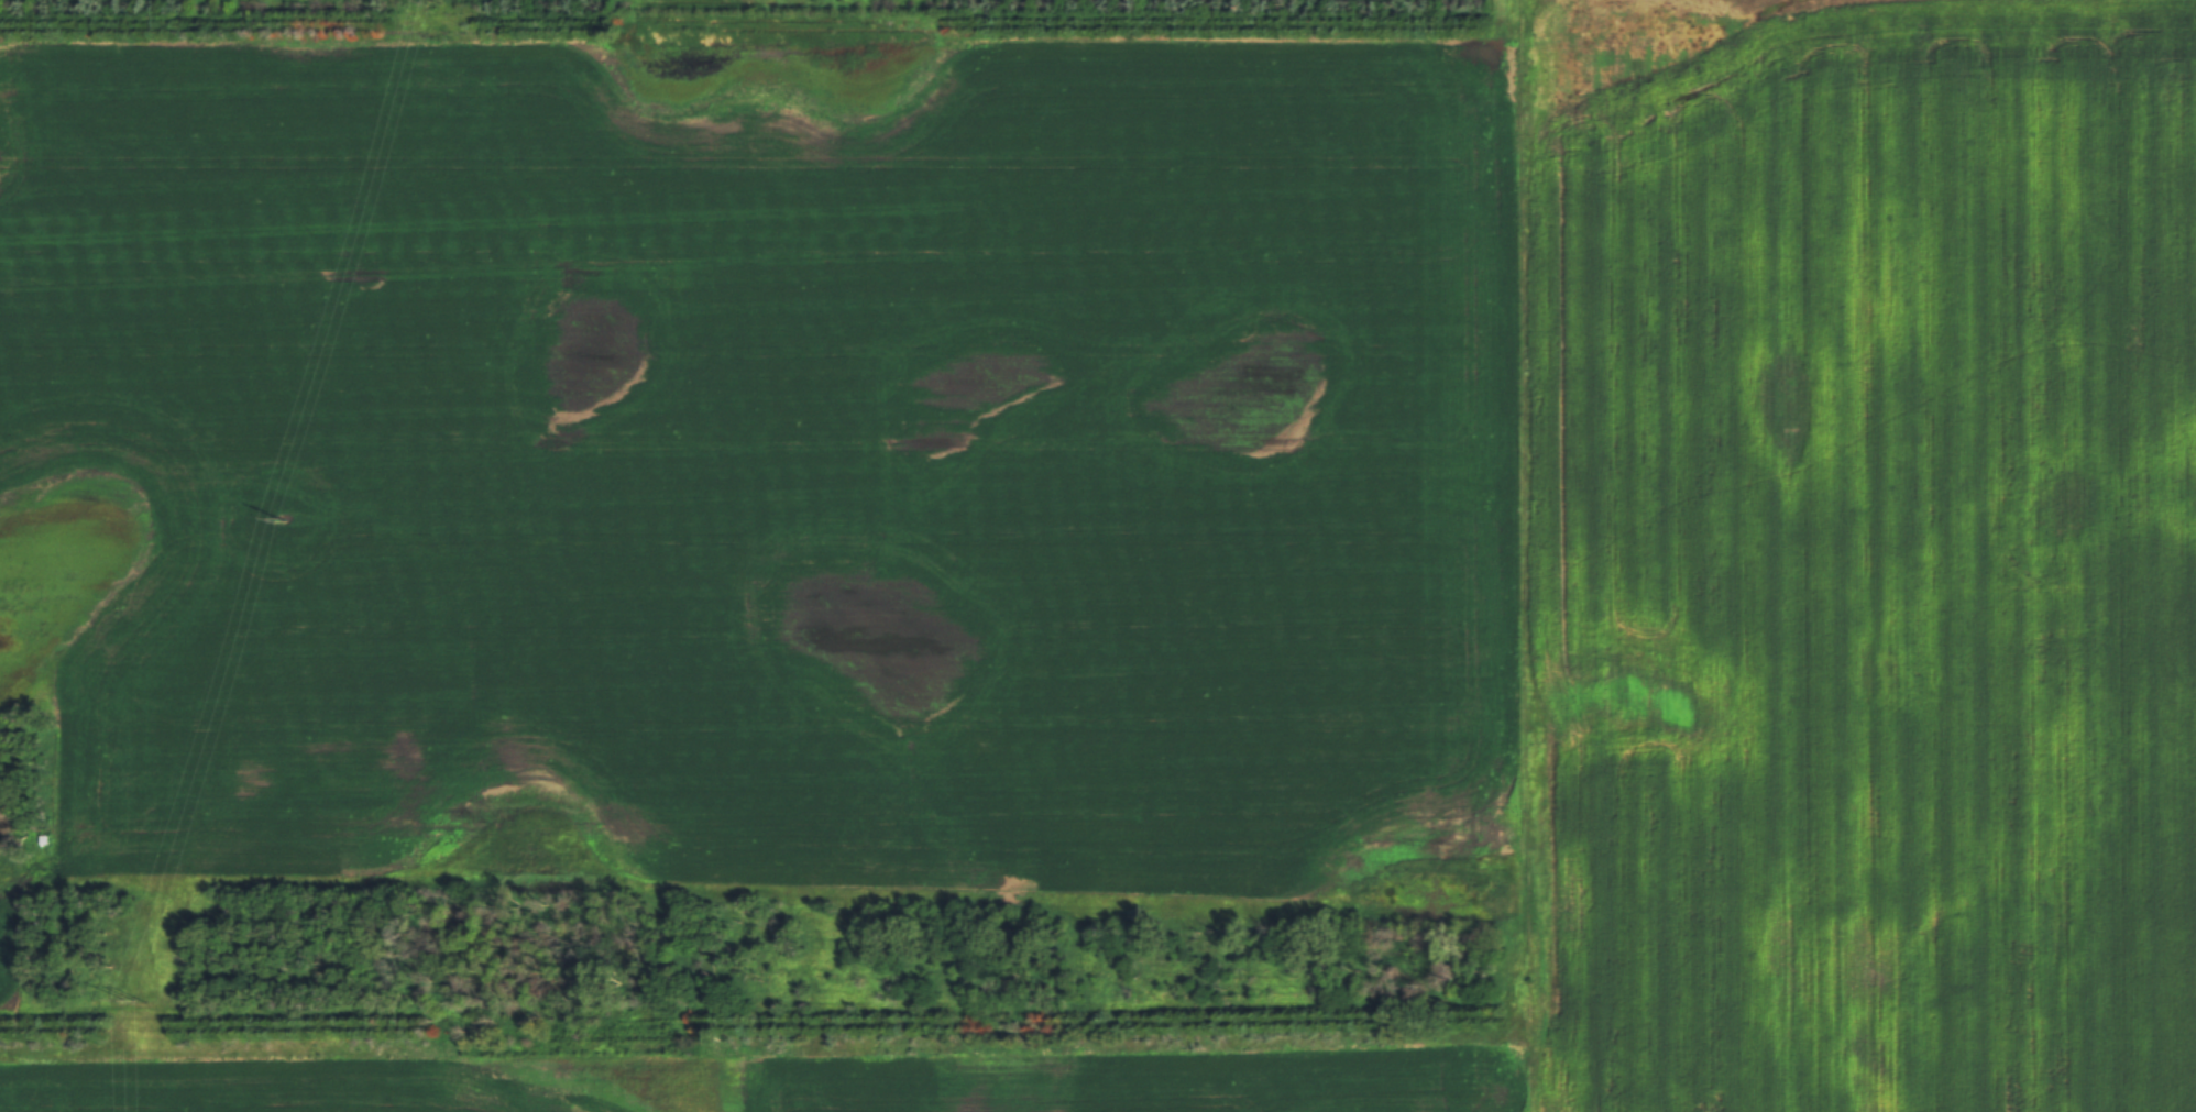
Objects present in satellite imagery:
power tower: (436, 0)
power tower: (281, 519)
power tower: (132, 1002)

